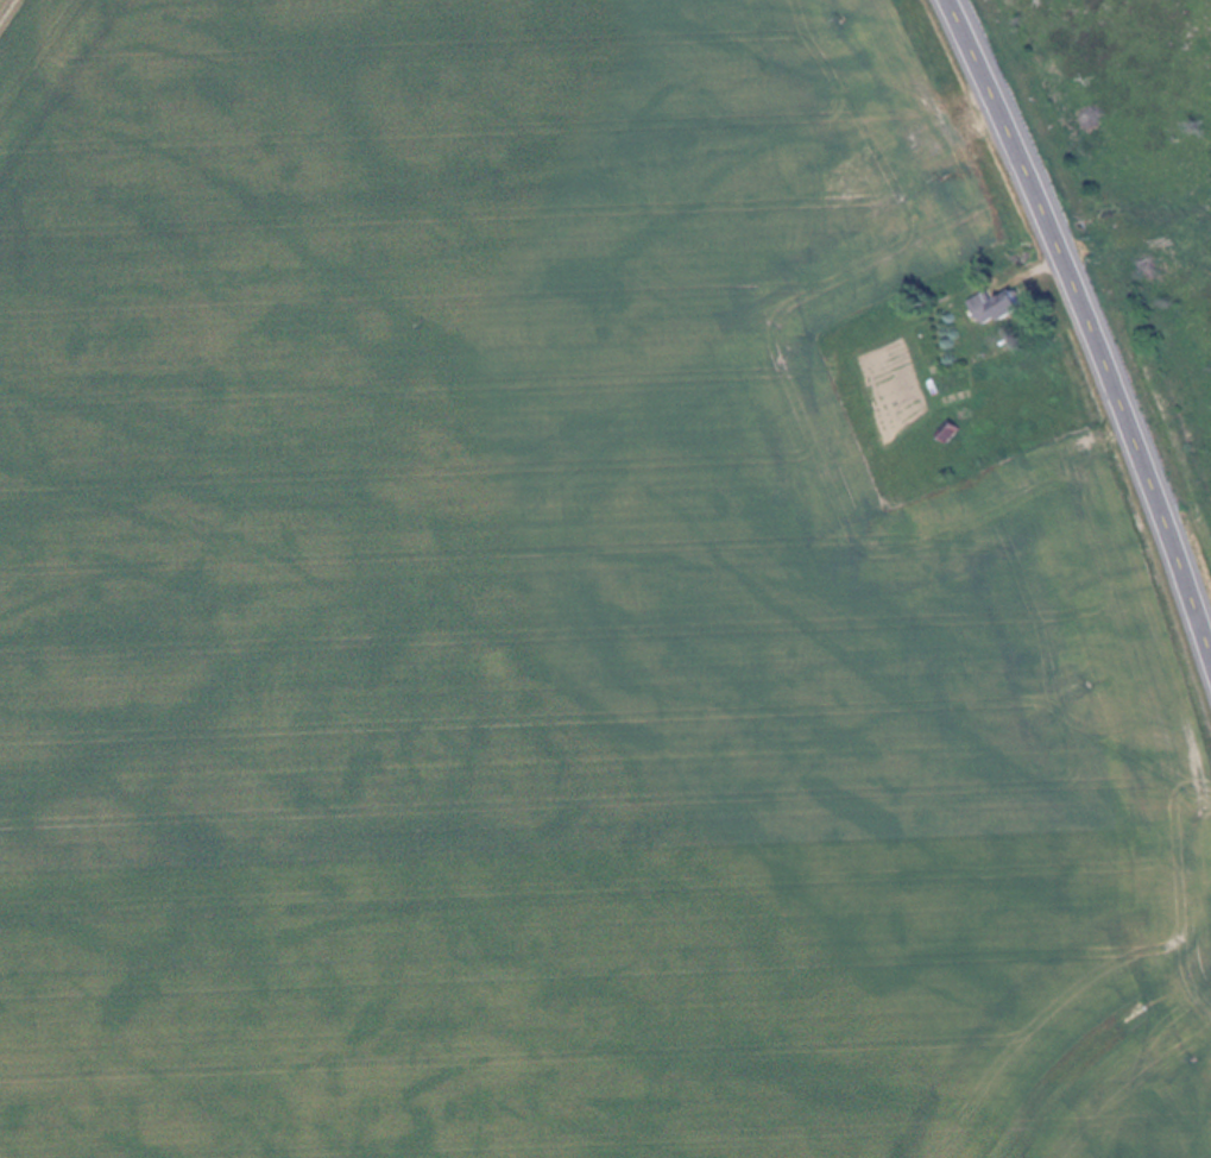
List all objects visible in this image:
building: (891, 229)
building: (1005, 303)
road: (1093, 322)

